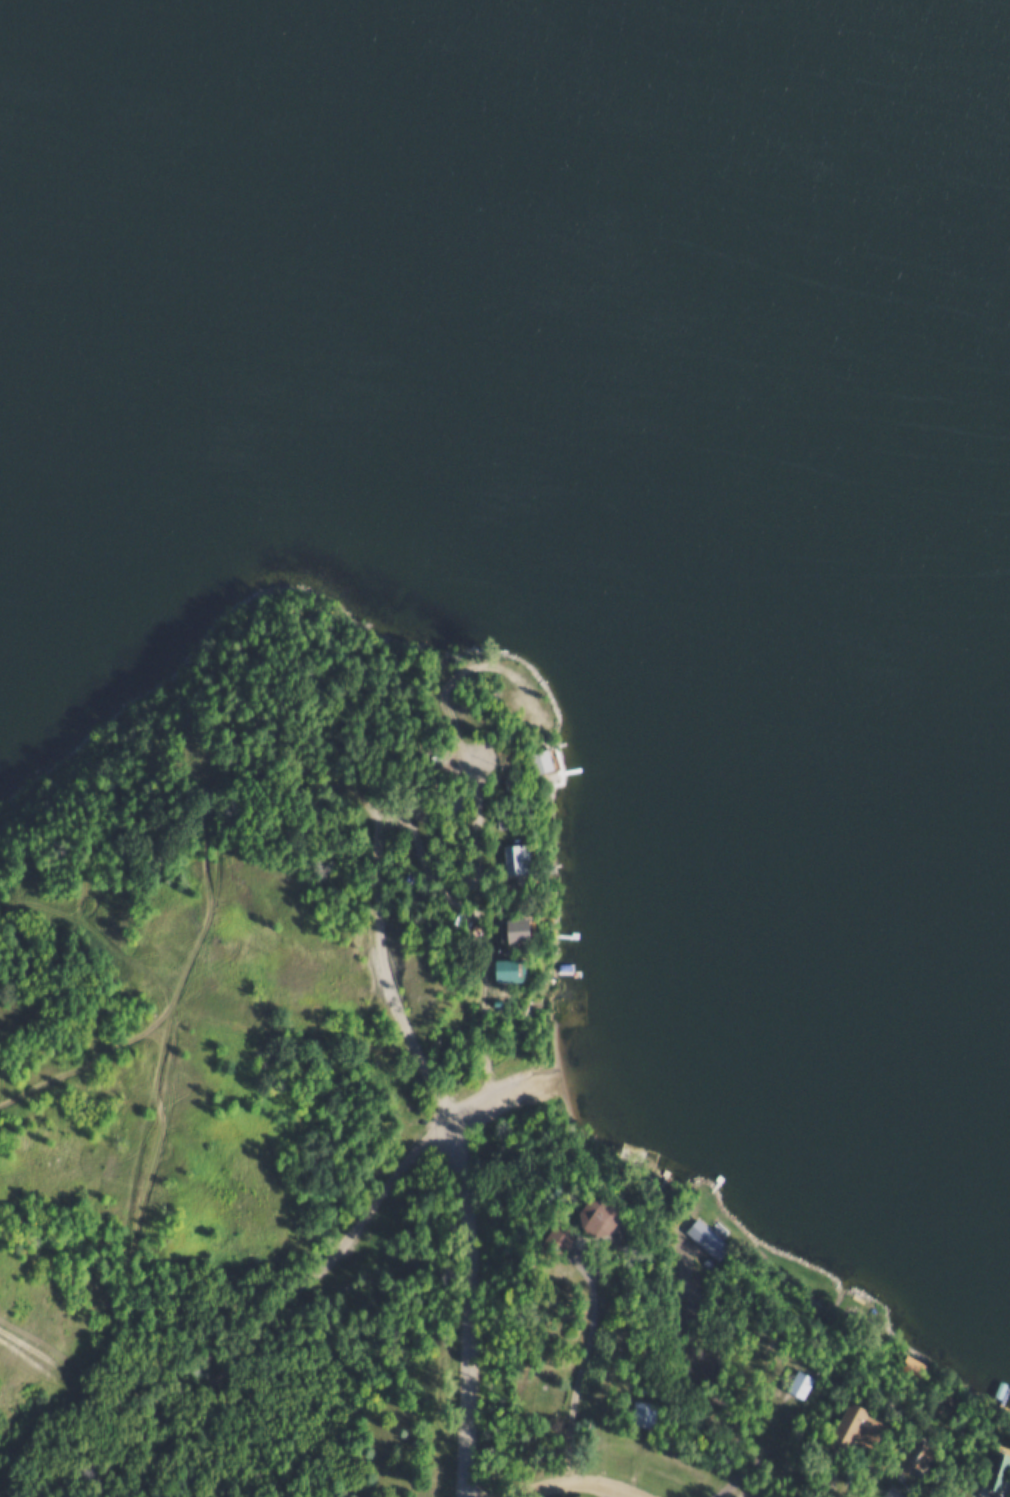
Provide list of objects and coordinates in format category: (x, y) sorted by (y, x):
building: (519, 709)
building: (534, 760)
building: (554, 760)
road: (305, 773)
road: (465, 792)
building: (440, 805)
building: (497, 818)
building: (510, 859)
building: (508, 928)
building: (497, 968)
road: (383, 971)
road: (501, 1087)
road: (384, 1182)
building: (590, 1214)
building: (617, 1219)
building: (572, 1235)
building: (708, 1235)
building: (553, 1236)
road: (472, 1302)
building: (913, 1362)
road: (582, 1373)
building: (792, 1384)
building: (815, 1384)
building: (642, 1410)
road: (157, 1427)
building: (847, 1428)
building: (908, 1453)
building: (992, 1474)
road: (776, 1479)
road: (582, 1482)
road: (903, 1488)

